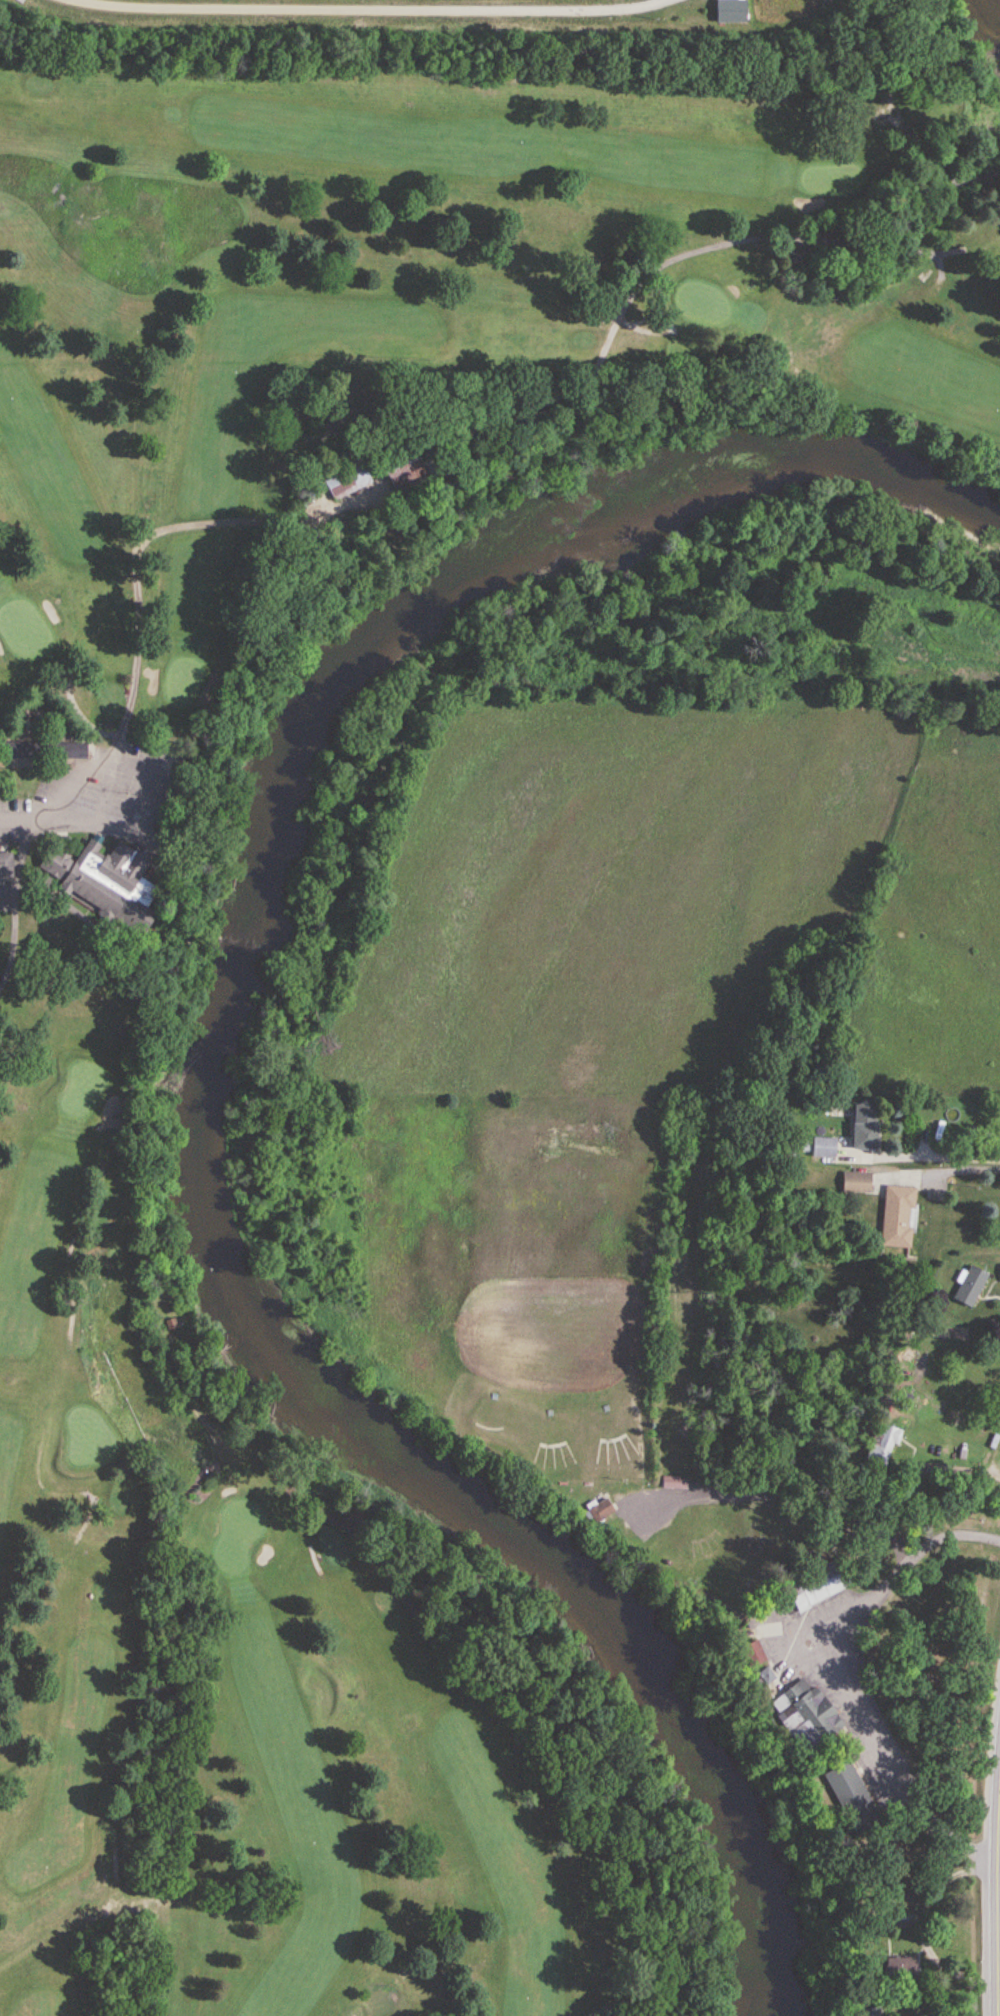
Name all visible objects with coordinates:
building: (397, 464)
building: (345, 478)
building: (66, 751)
building: (14, 754)
road: (150, 779)
parking lot: (100, 787)
road: (26, 820)
building: (5, 866)
building: (99, 880)
park: (102, 929)
river: (204, 1075)
building: (863, 1127)
building: (820, 1147)
road: (952, 1157)
road: (960, 1169)
building: (855, 1183)
building: (896, 1217)
building: (969, 1286)
building: (882, 1445)
road: (961, 1468)
building: (676, 1482)
building: (814, 1587)
road: (850, 1617)
building: (749, 1655)
building: (763, 1676)
building: (803, 1715)
building: (847, 1795)
road: (924, 1923)
building: (898, 1971)
road: (997, 1987)
building: (869, 2012)

